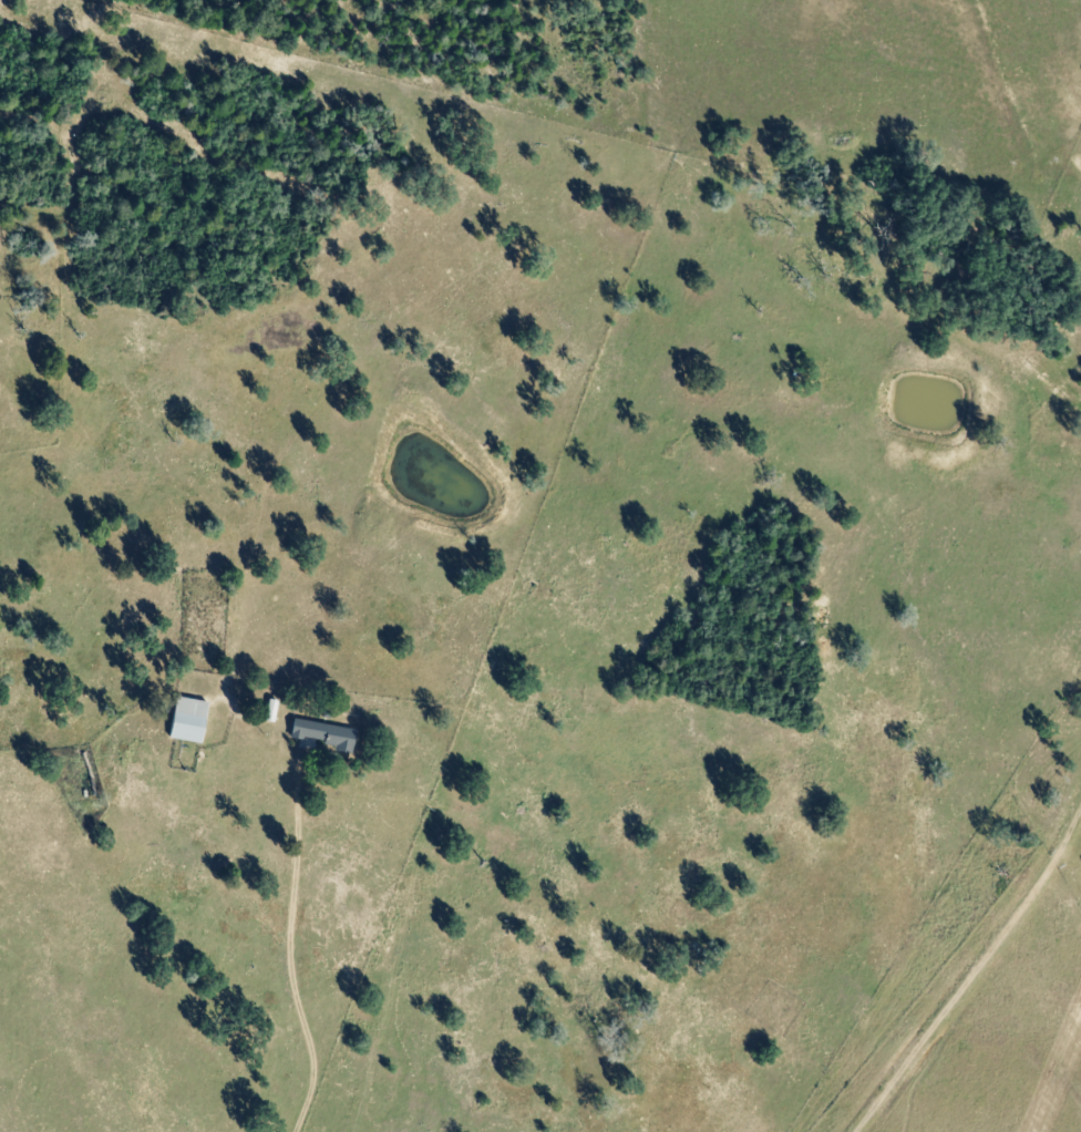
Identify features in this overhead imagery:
road: (958, 3)
road: (1034, 42)
building: (192, 720)
building: (326, 734)

